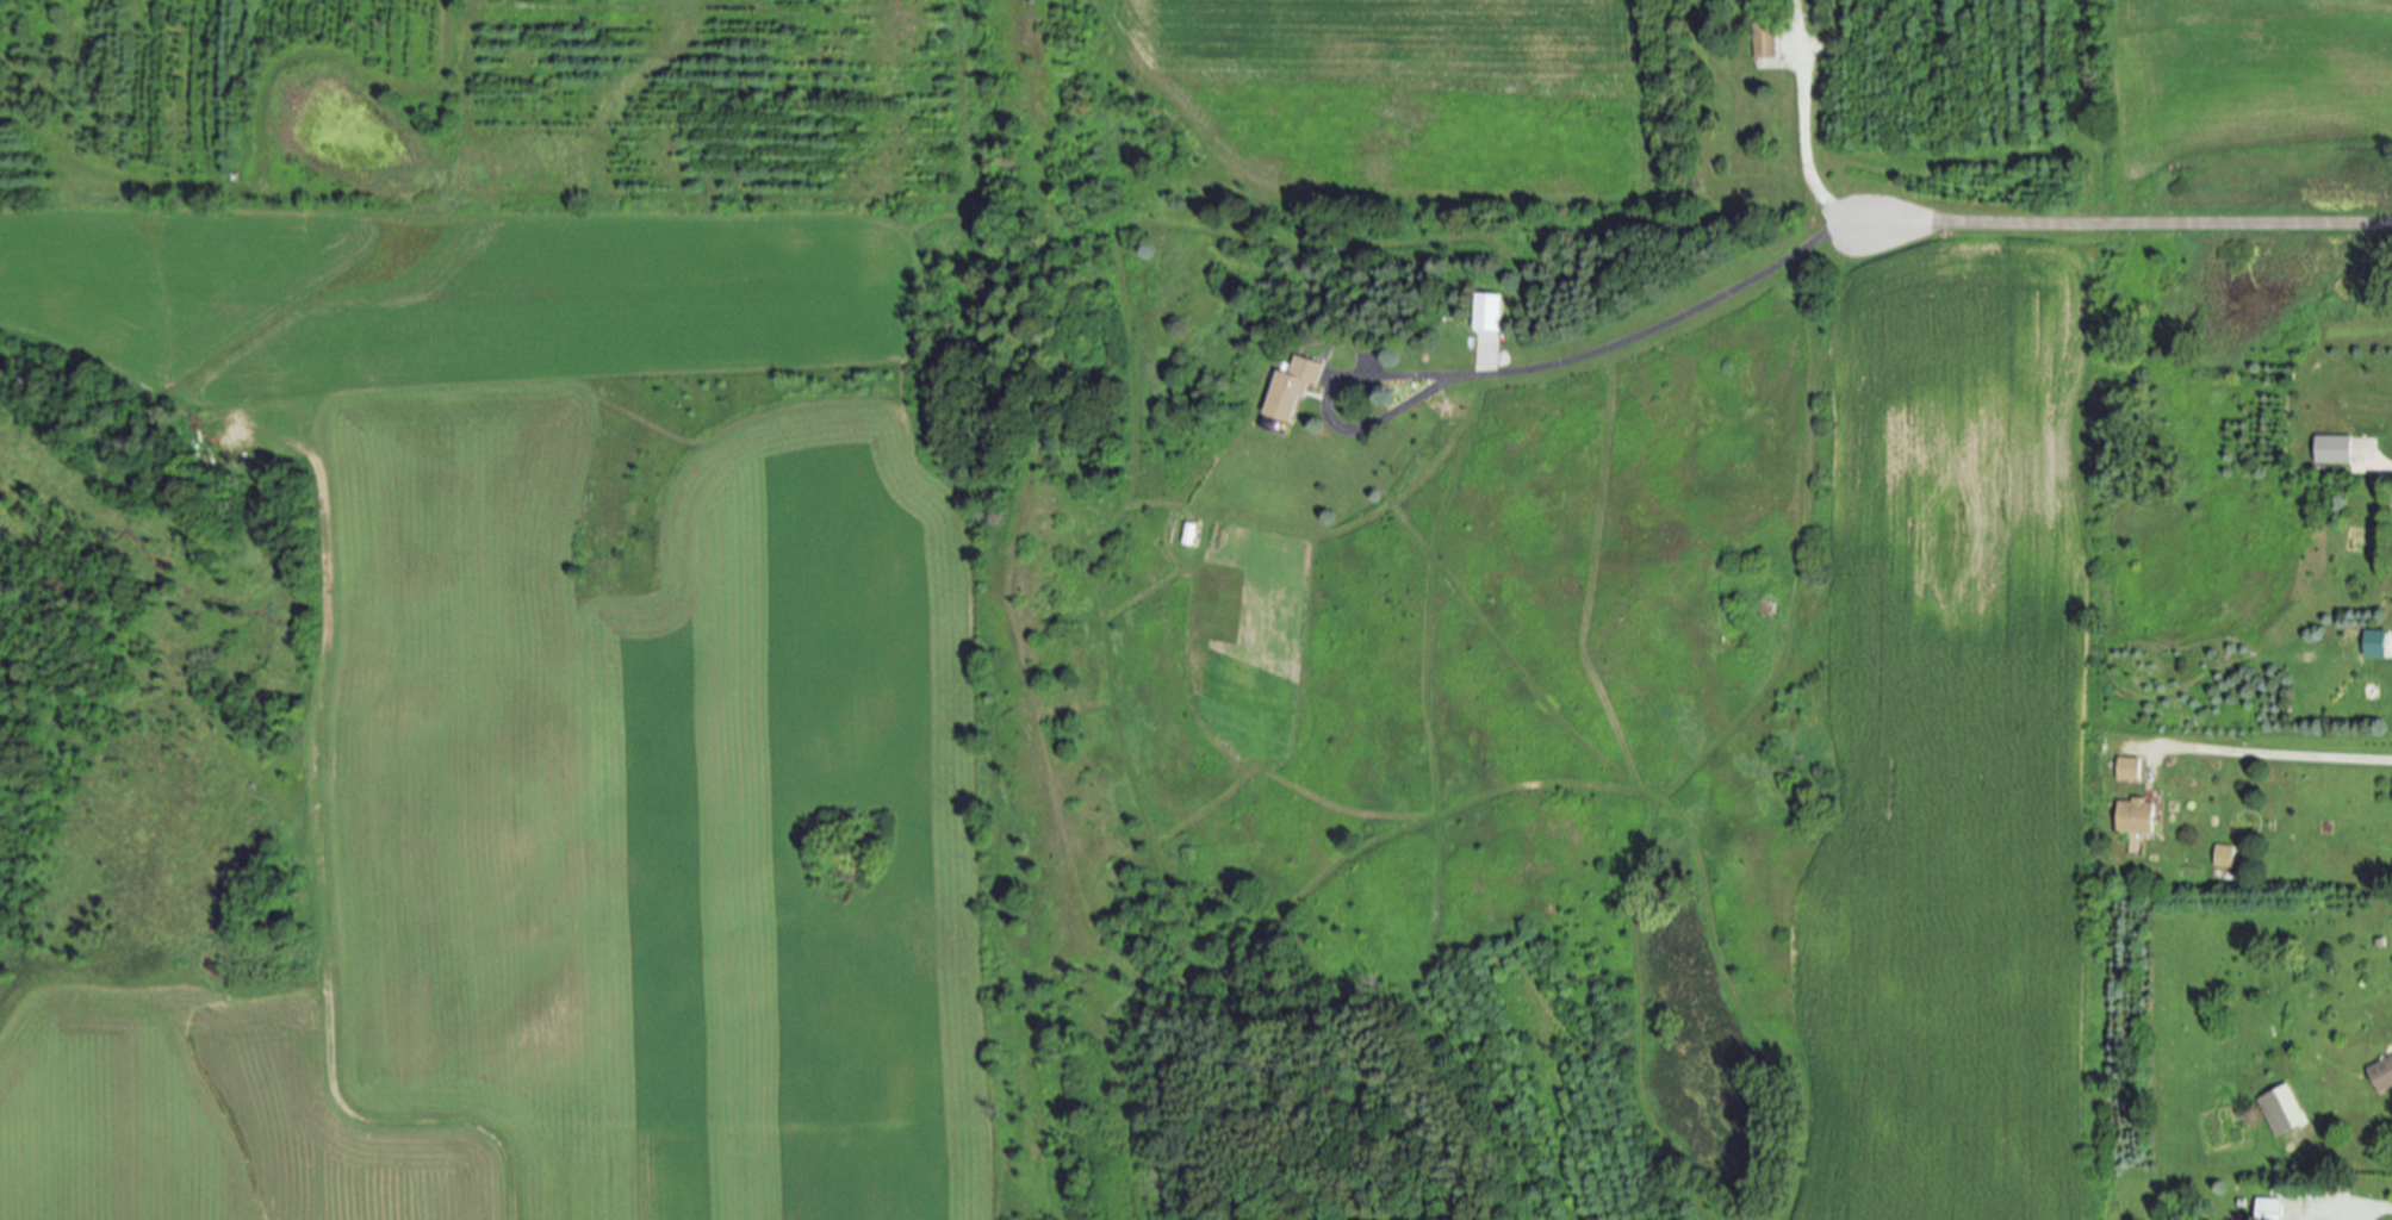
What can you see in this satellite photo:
building: (1766, 39)
road: (2131, 223)
road: (1787, 259)
building: (1489, 312)
building: (1296, 388)
road: (1327, 416)
building: (2335, 449)
building: (1191, 534)
building: (2378, 645)
road: (2278, 751)
building: (2132, 768)
building: (2138, 815)
building: (2224, 855)
building: (2382, 1073)
building: (2284, 1110)
road: (2359, 1206)
building: (2270, 1209)

